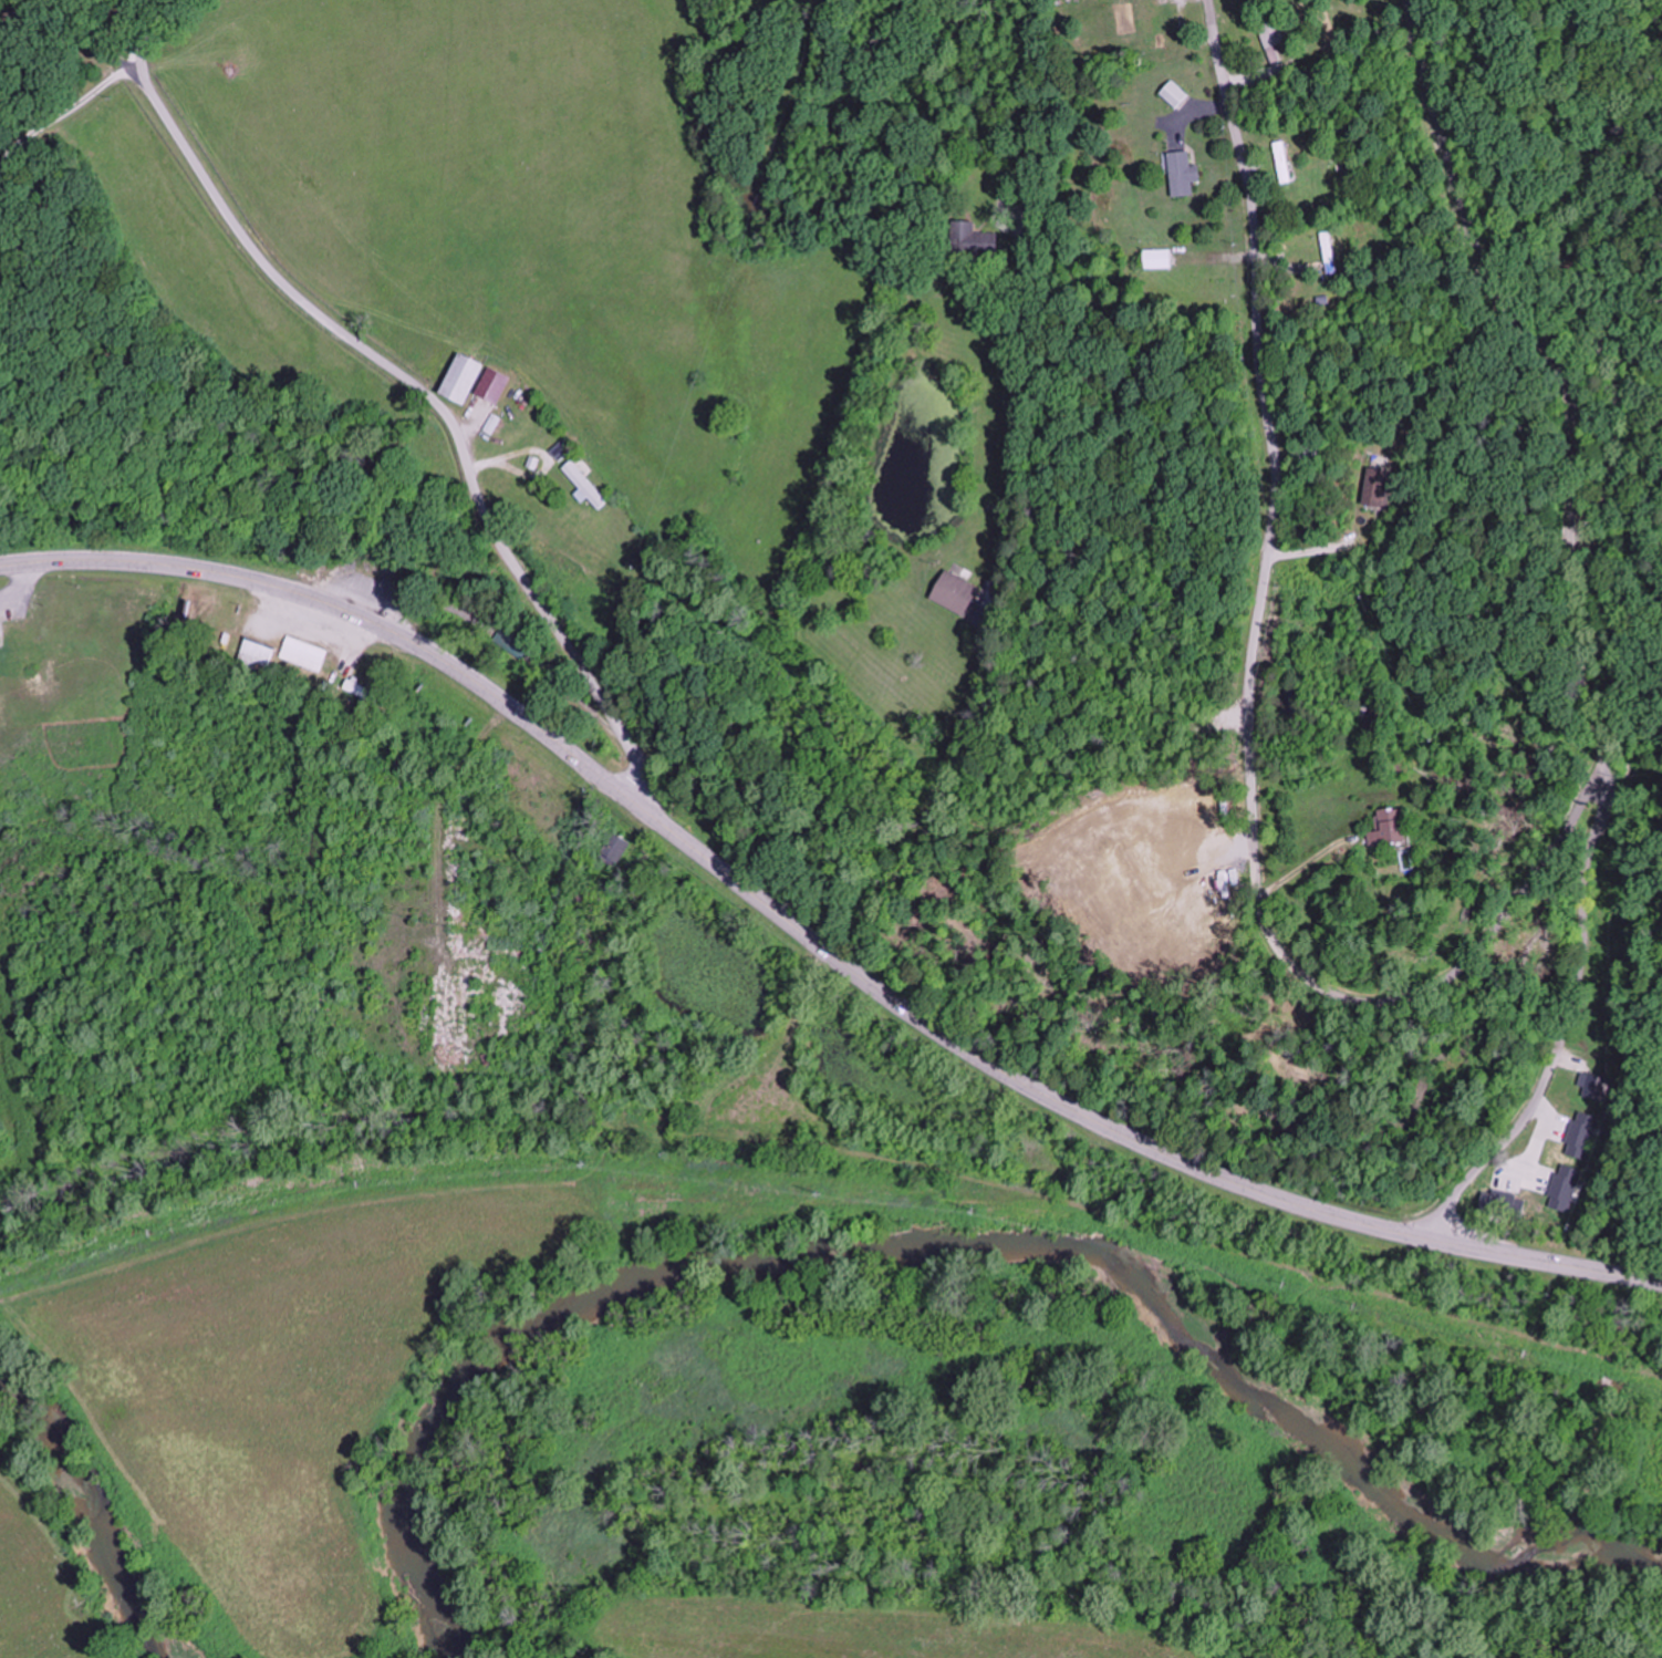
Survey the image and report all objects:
building: (1147, 24)
building: (1274, 39)
building: (1173, 94)
building: (1281, 163)
building: (1178, 174)
building: (969, 241)
building: (1154, 259)
road: (1499, 276)
building: (1209, 286)
building: (457, 377)
road: (408, 382)
building: (491, 385)
building: (1300, 449)
building: (583, 485)
building: (1372, 486)
road: (24, 584)
building: (952, 591)
road: (309, 622)
building: (510, 642)
road: (1585, 650)
building: (302, 653)
building: (253, 654)
road: (970, 684)
building: (353, 686)
road: (1249, 695)
building: (1367, 714)
building: (1384, 827)
building: (612, 848)
building: (485, 890)
road: (813, 942)
building: (1598, 1082)
building: (1569, 1138)
river: (953, 1245)
river: (94, 1511)

